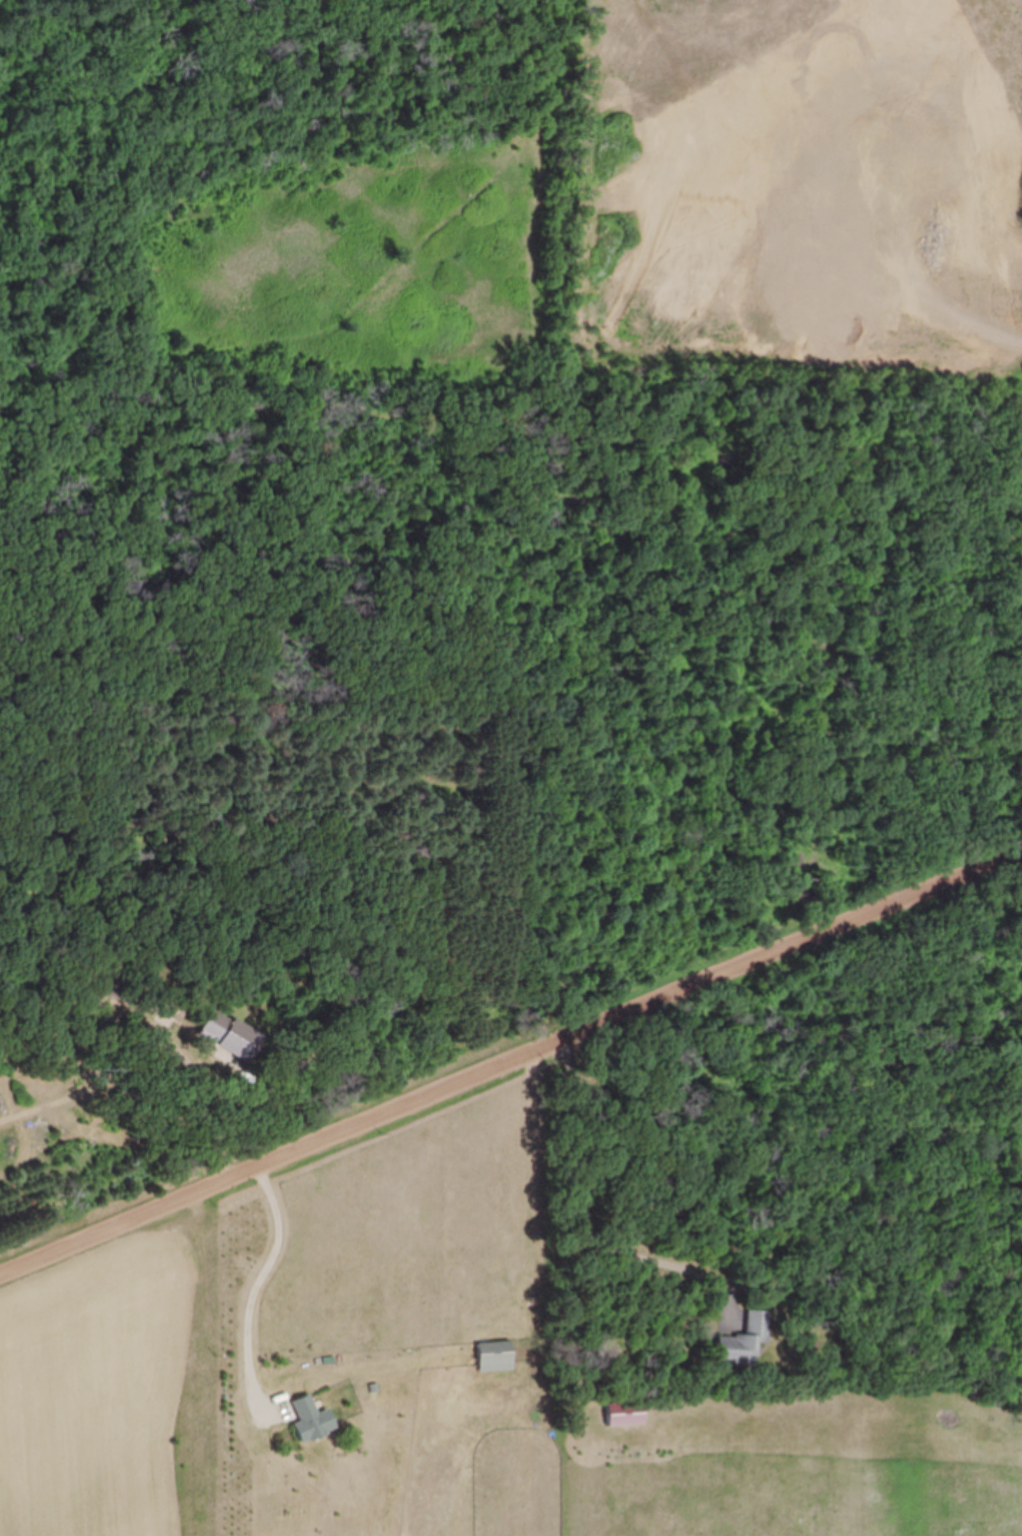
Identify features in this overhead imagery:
park: (272, 183)
building: (231, 1035)
road: (509, 1058)
building: (747, 1341)
building: (498, 1356)
building: (626, 1414)
building: (314, 1420)

